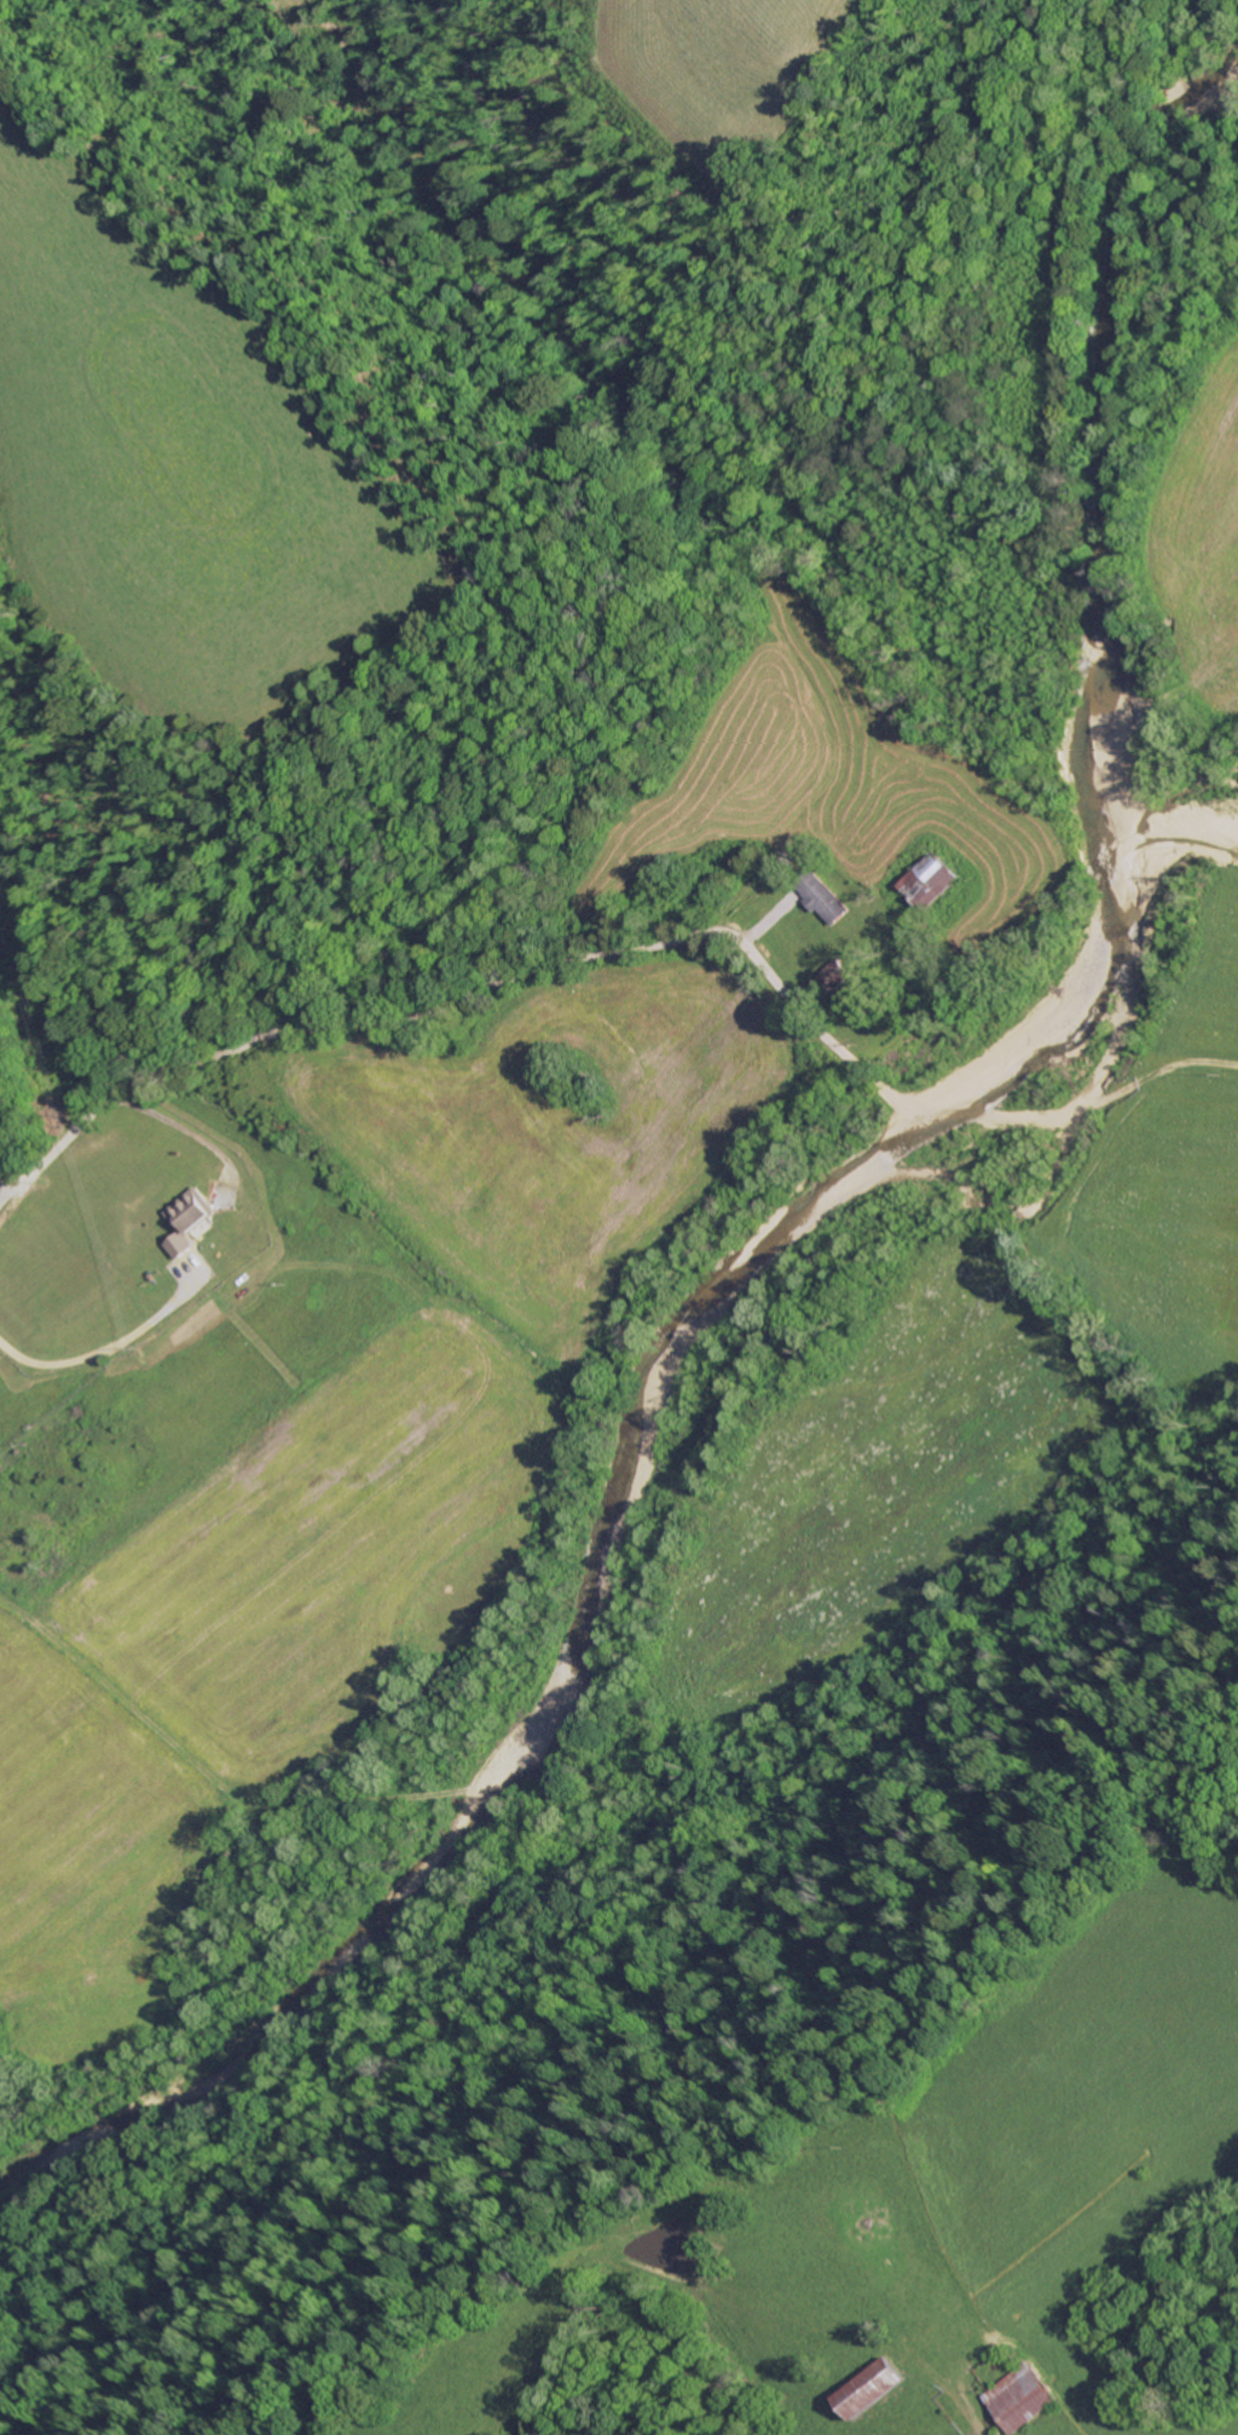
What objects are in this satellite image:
road: (750, 432)
building: (928, 881)
building: (823, 900)
road: (451, 933)
building: (835, 974)
road: (359, 1024)
road: (12, 1126)
building: (189, 1221)
building: (868, 2388)
building: (1022, 2398)
road: (949, 2411)

